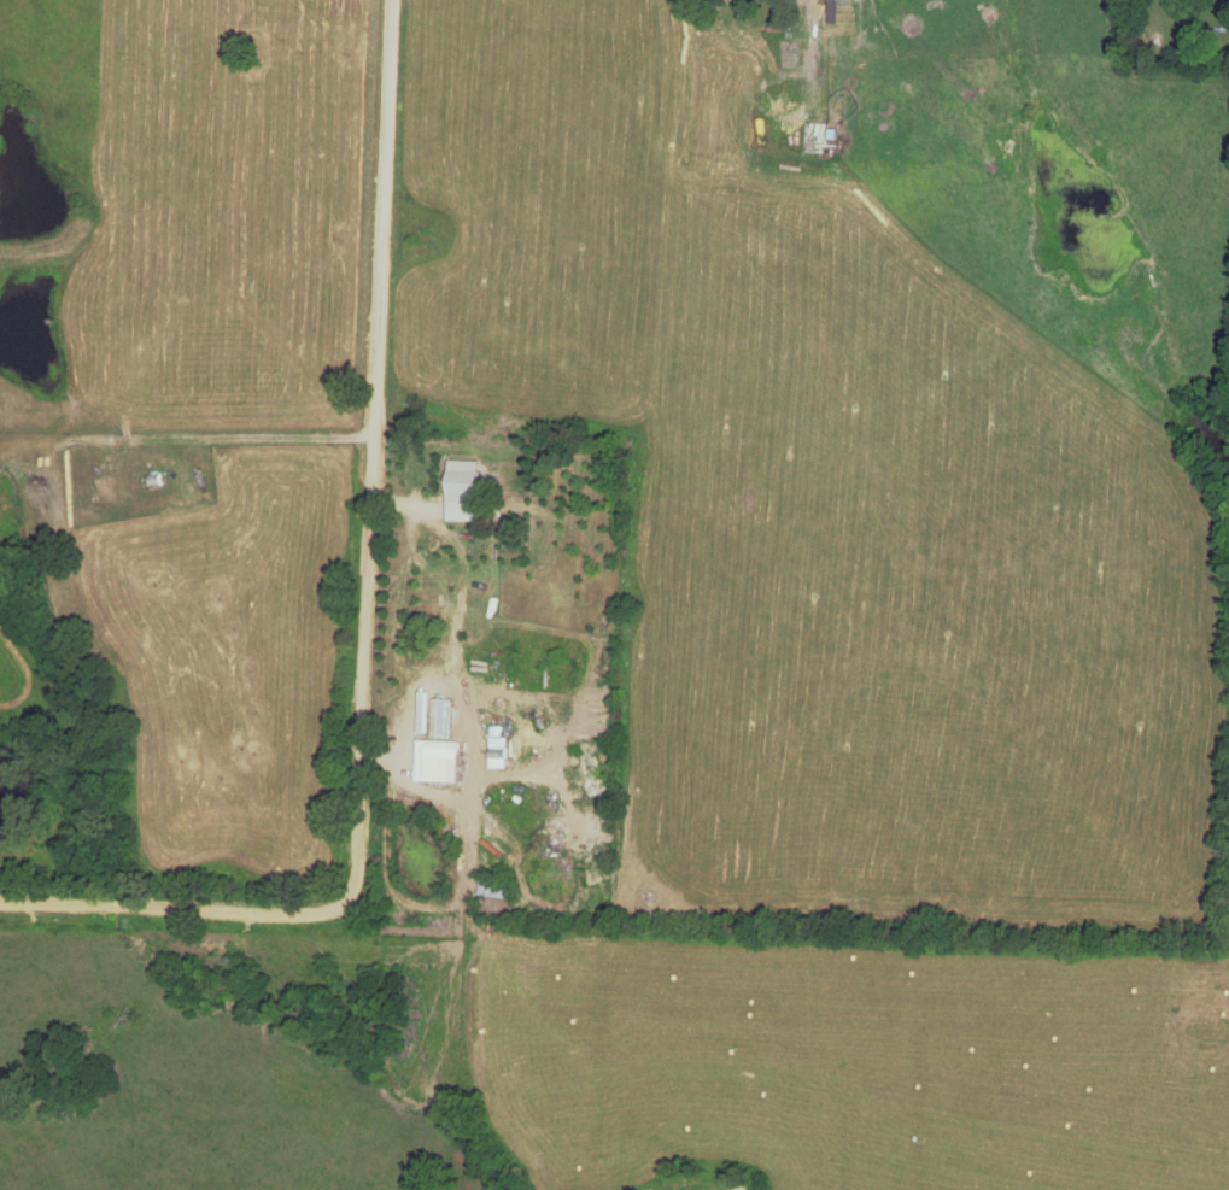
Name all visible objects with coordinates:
building: (841, 0)
building: (821, 137)
building: (466, 485)
road: (365, 627)
road: (458, 703)
building: (441, 719)
building: (497, 749)
road: (376, 758)
building: (437, 762)
building: (496, 890)

